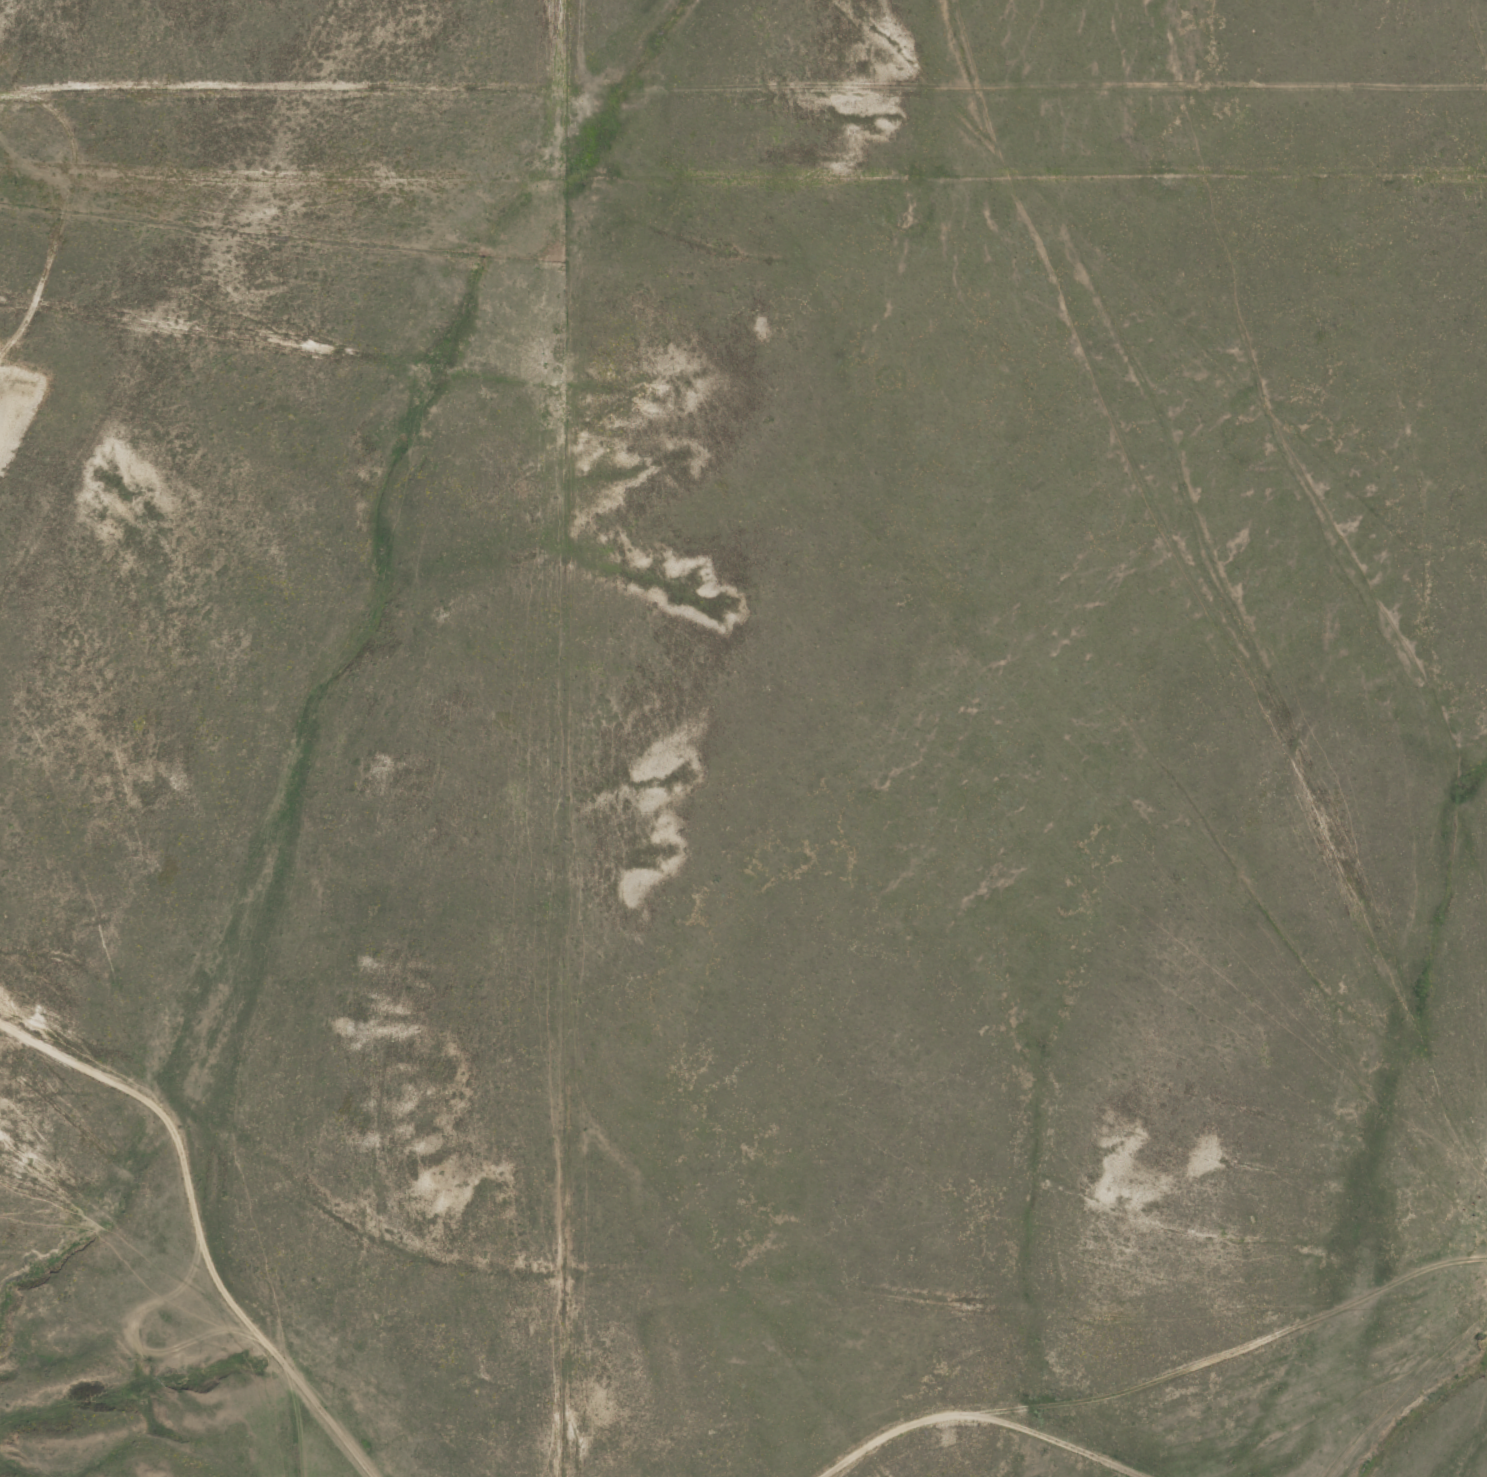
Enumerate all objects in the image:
road: (279, 96)
road: (180, 1247)
road: (1284, 1351)
road: (1013, 1455)

